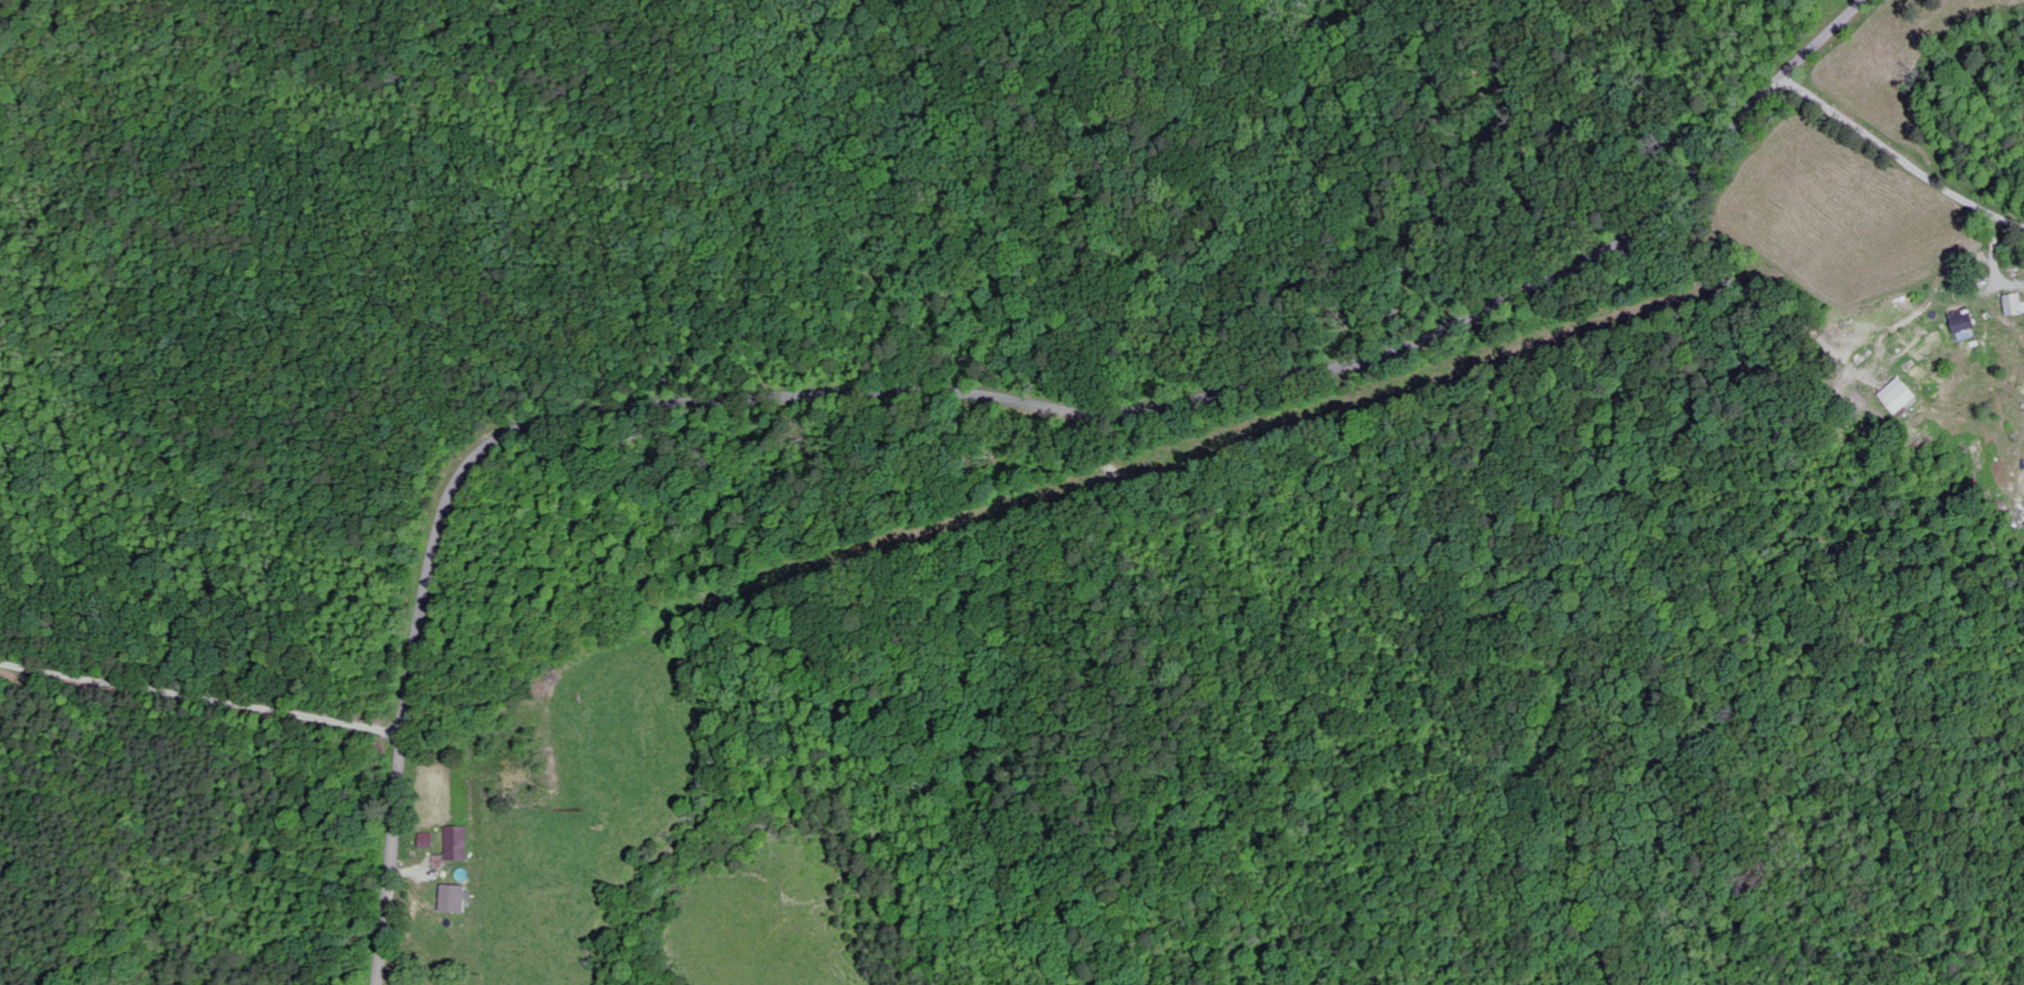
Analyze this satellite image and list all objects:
road: (1890, 150)
road: (1905, 242)
road: (1729, 285)
building: (2015, 305)
building: (1965, 325)
building: (1902, 398)
road: (1086, 401)
road: (202, 698)
building: (430, 842)
building: (460, 845)
road: (392, 860)
building: (456, 900)

